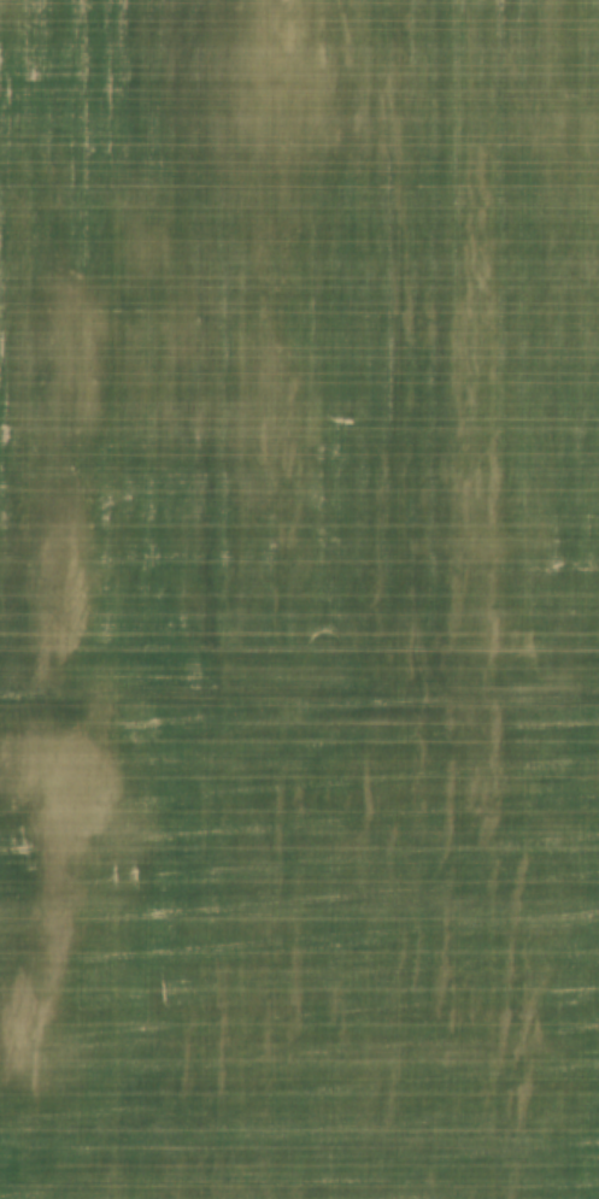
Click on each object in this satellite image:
road: (299, 705)

